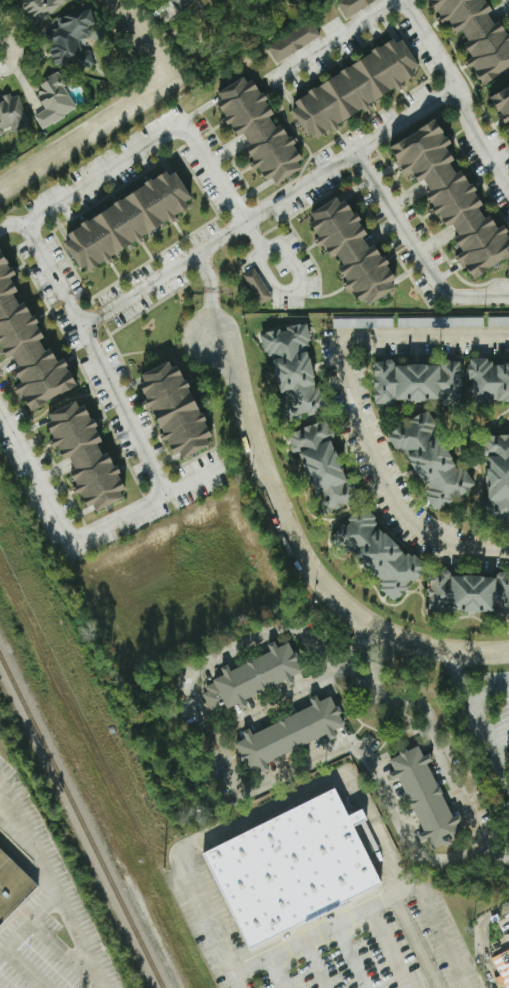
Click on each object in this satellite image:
building: (182, 4)
building: (352, 5)
building: (39, 8)
building: (479, 34)
building: (73, 39)
road: (139, 39)
road: (337, 39)
building: (293, 40)
road: (429, 46)
building: (355, 88)
road: (450, 96)
building: (53, 100)
building: (503, 101)
building: (12, 114)
building: (260, 129)
road: (85, 133)
building: (456, 196)
road: (271, 206)
building: (130, 219)
road: (13, 224)
building: (355, 249)
road: (200, 250)
building: (257, 286)
road: (211, 292)
building: (498, 321)
building: (361, 322)
building: (440, 322)
building: (29, 344)
building: (293, 371)
building: (417, 381)
building: (487, 382)
building: (178, 408)
road: (361, 409)
building: (88, 455)
building: (430, 459)
road: (472, 465)
building: (322, 467)
road: (161, 474)
building: (497, 477)
building: (378, 552)
road: (302, 555)
building: (468, 593)
building: (253, 677)
road: (488, 688)
road: (276, 703)
road: (482, 722)
building: (288, 733)
road: (432, 738)
road: (236, 783)
road: (324, 783)
building: (425, 798)
railway: (80, 823)
building: (291, 868)
power tower: (163, 869)
road: (48, 882)
building: (12, 886)
road: (377, 908)
road: (211, 920)
parking lot: (330, 935)
road: (481, 940)
road: (77, 942)
road: (389, 950)
road: (349, 959)
road: (315, 966)
building: (502, 966)
road: (246, 970)

